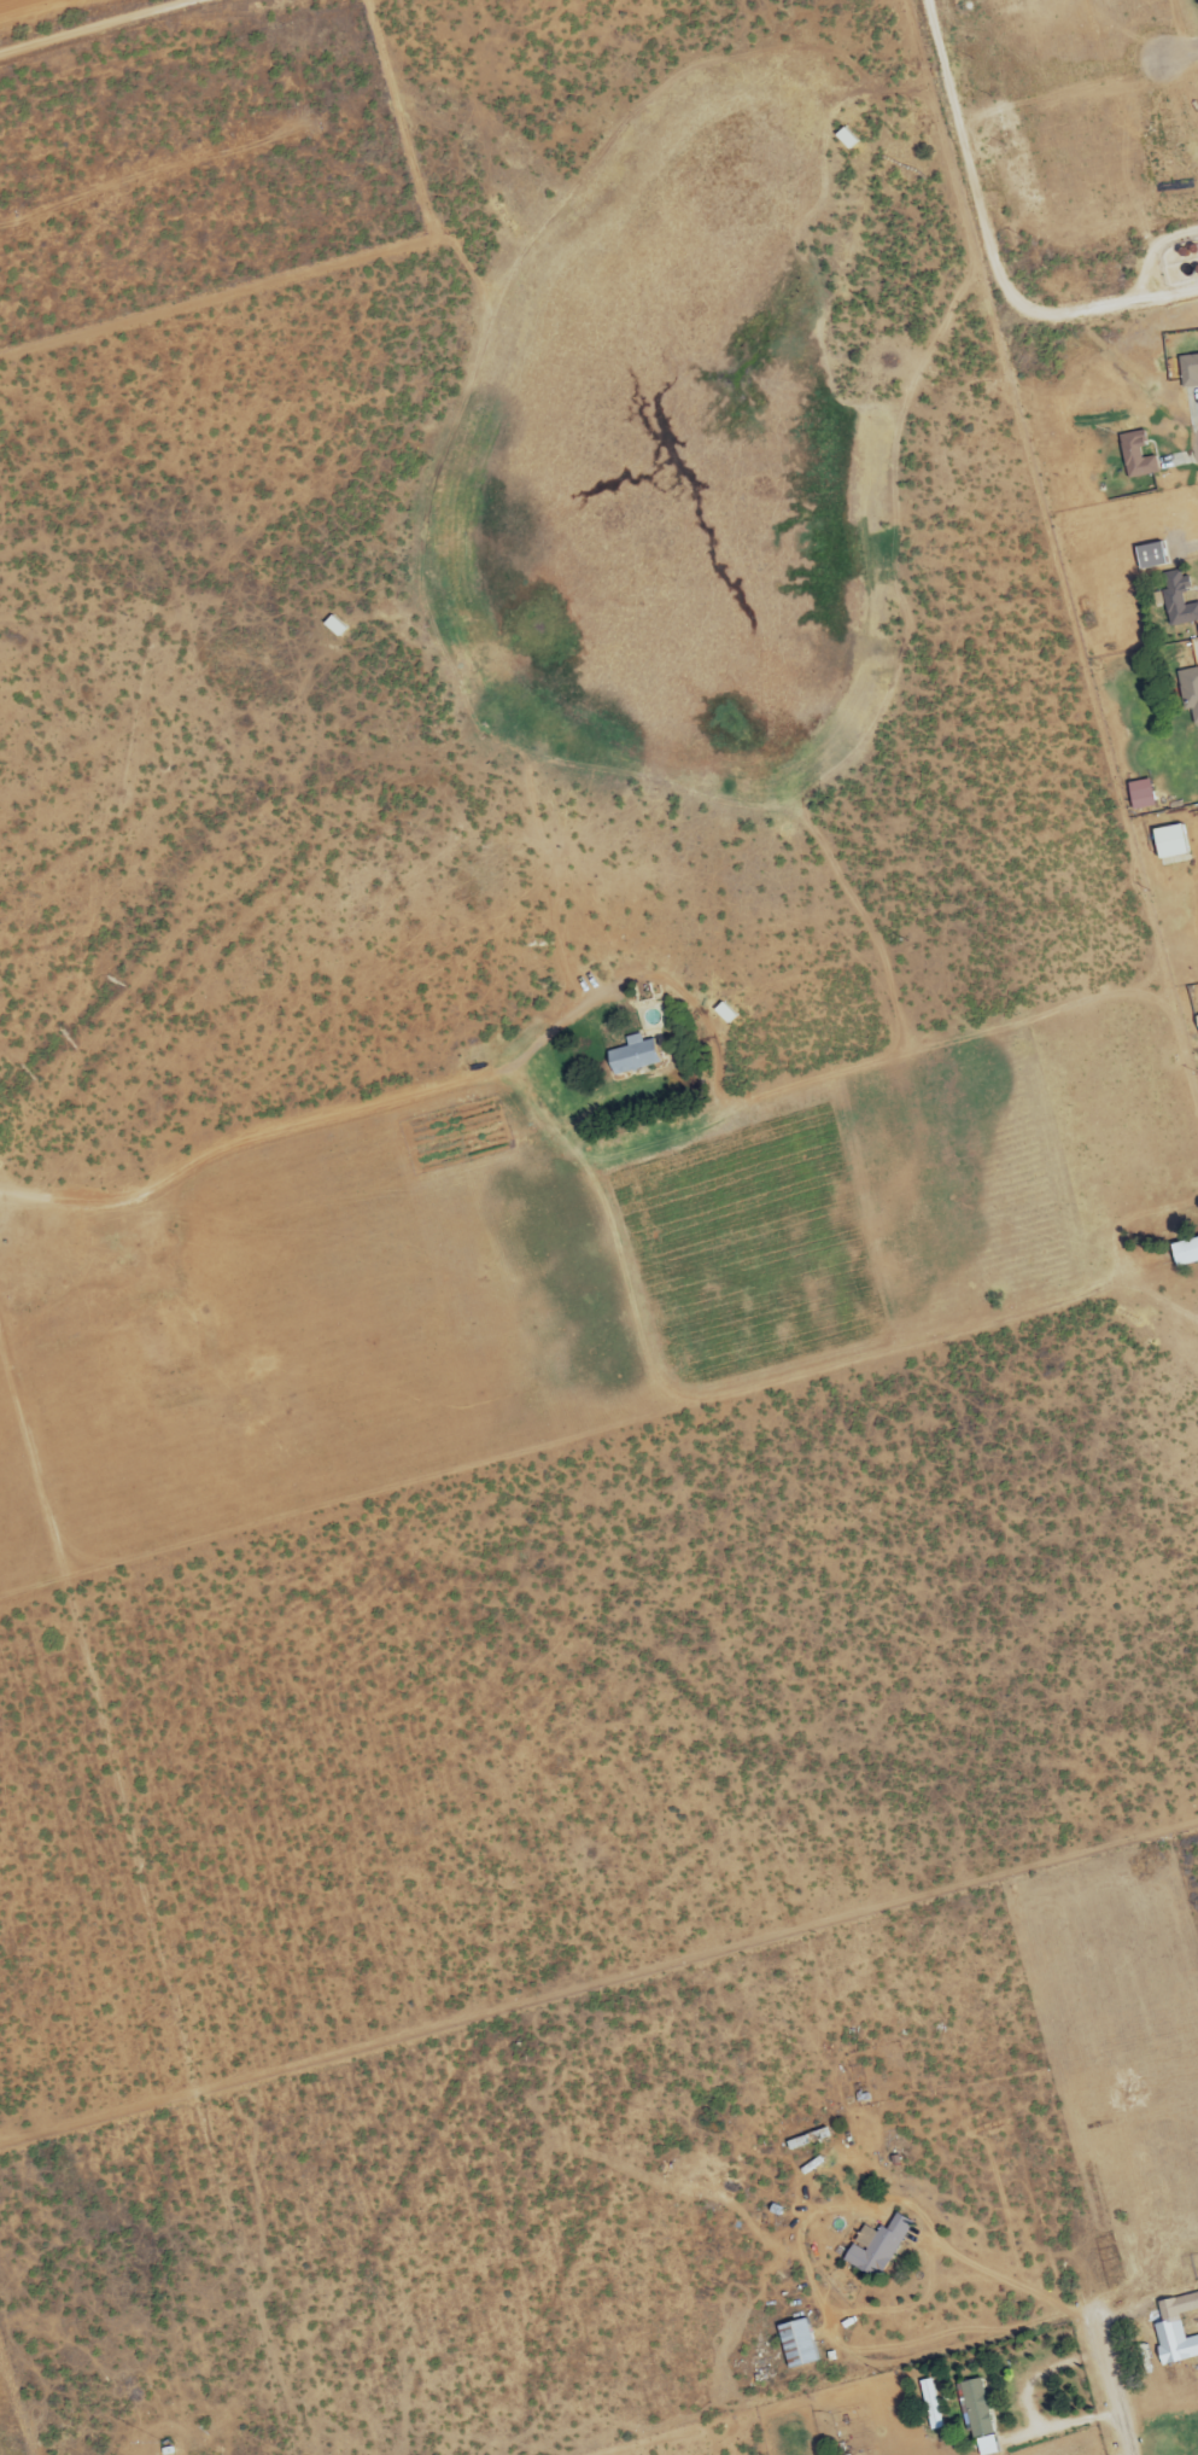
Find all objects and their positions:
road: (148, 22)
crop: (98, 25)
road: (1180, 51)
building: (1188, 371)
building: (1134, 457)
building: (1149, 556)
building: (1176, 600)
building: (1188, 692)
building: (1139, 795)
building: (1169, 842)
building: (1196, 1024)
building: (639, 1056)
building: (1184, 1253)
building: (882, 2247)
road: (1010, 2282)
building: (1179, 2331)
building: (802, 2345)
road: (1110, 2387)
building: (933, 2406)
crop: (12, 2409)
building: (982, 2418)

